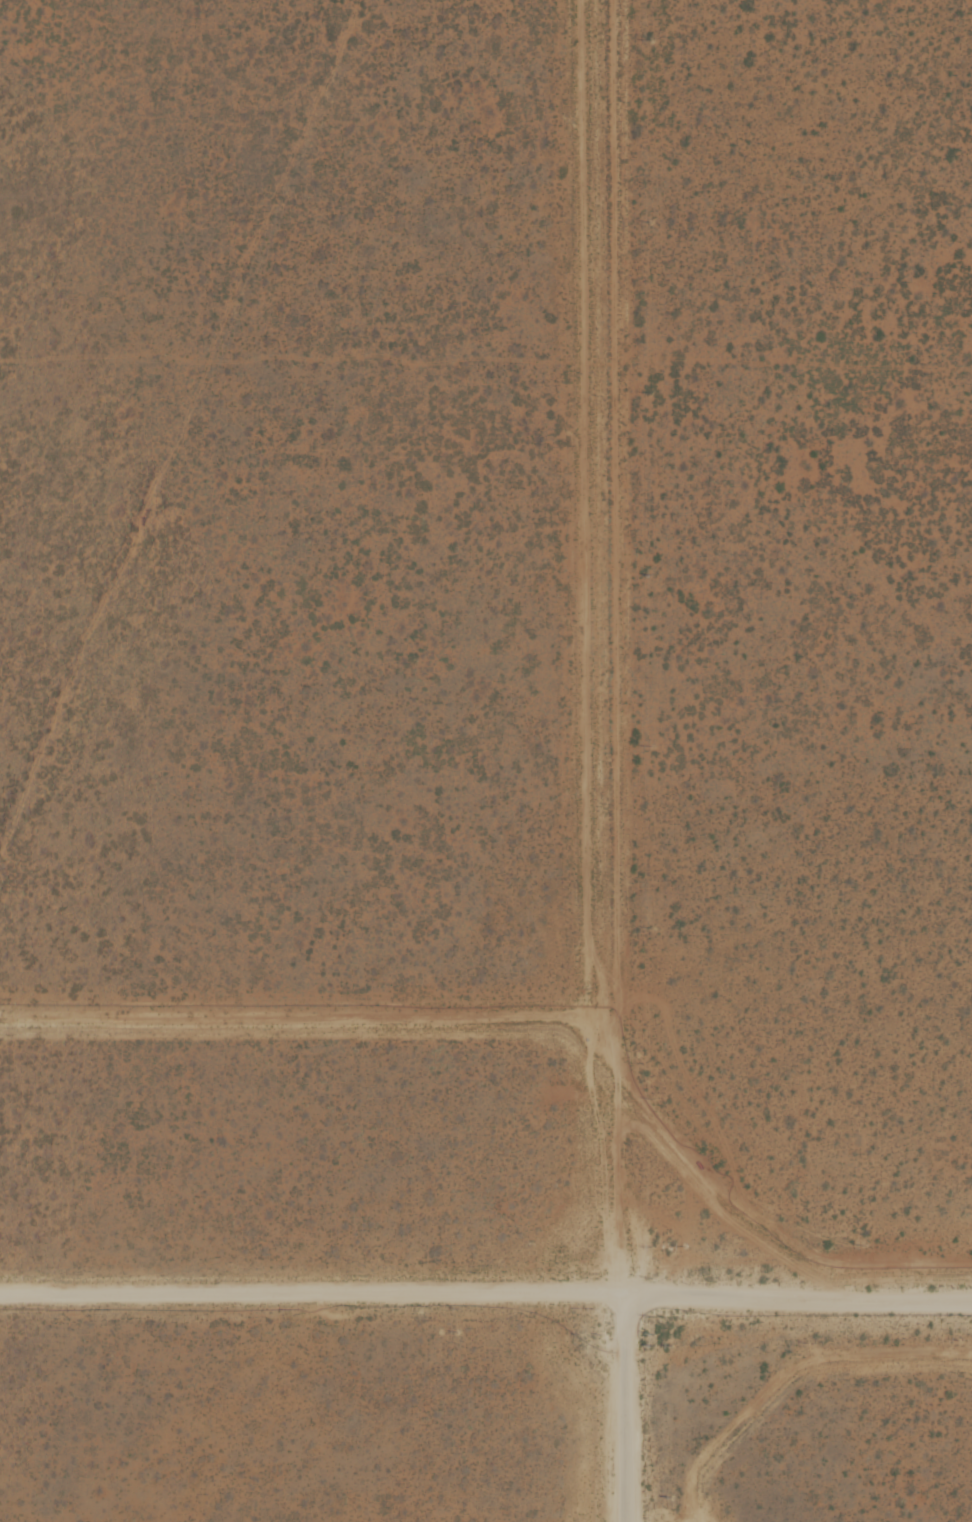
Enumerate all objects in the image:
road: (485, 1290)
road: (623, 1406)

